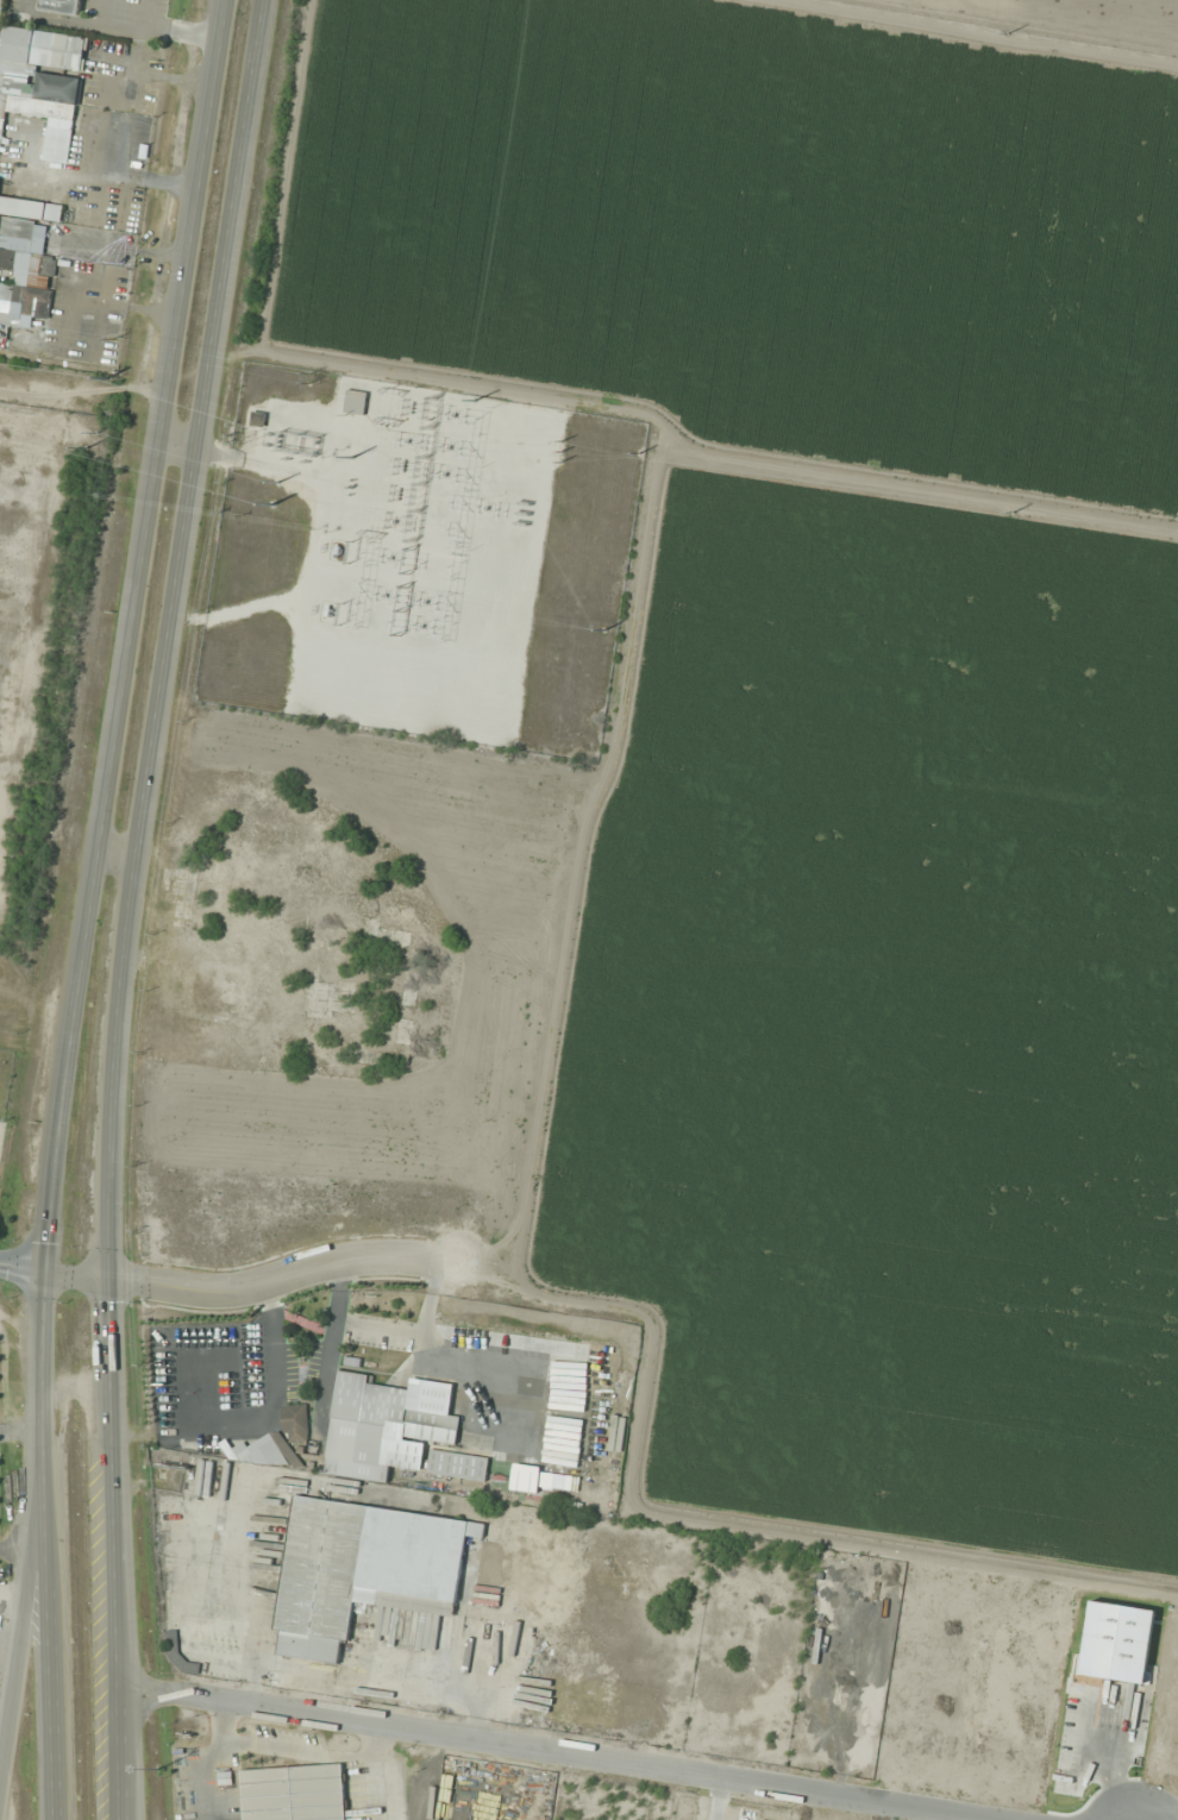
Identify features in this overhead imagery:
building: (62, 6)
building: (43, 82)
building: (26, 257)
building: (355, 400)
road: (184, 446)
power substation: (421, 560)
road: (137, 636)
road: (126, 854)
road: (146, 854)
road: (24, 1272)
traffic signals: (49, 1275)
road: (80, 1276)
traffic signals: (112, 1279)
road: (268, 1282)
road: (49, 1370)
building: (296, 1423)
building: (375, 1427)
building: (458, 1467)
building: (362, 1569)
road: (24, 1626)
road: (52, 1643)
road: (554, 1752)
road: (123, 1768)
road: (127, 1768)
building: (228, 1777)
building: (294, 1793)

